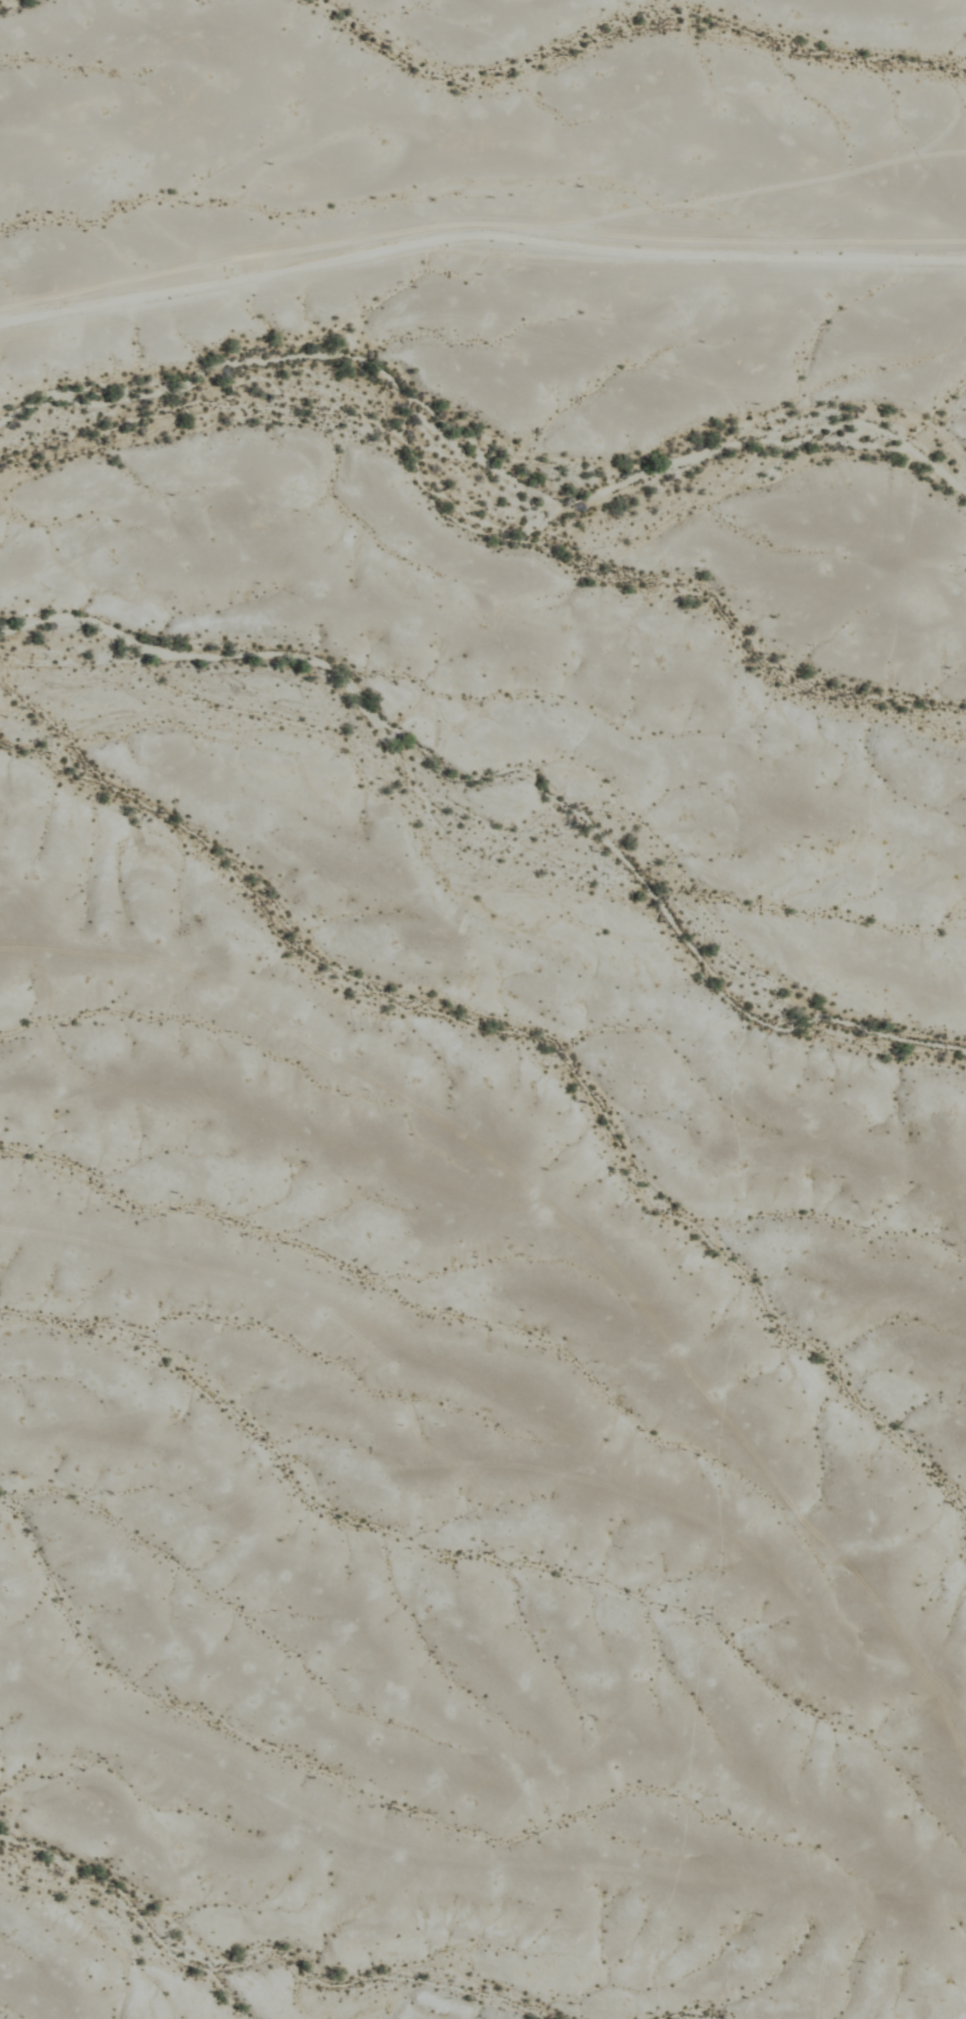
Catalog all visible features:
road: (479, 228)

